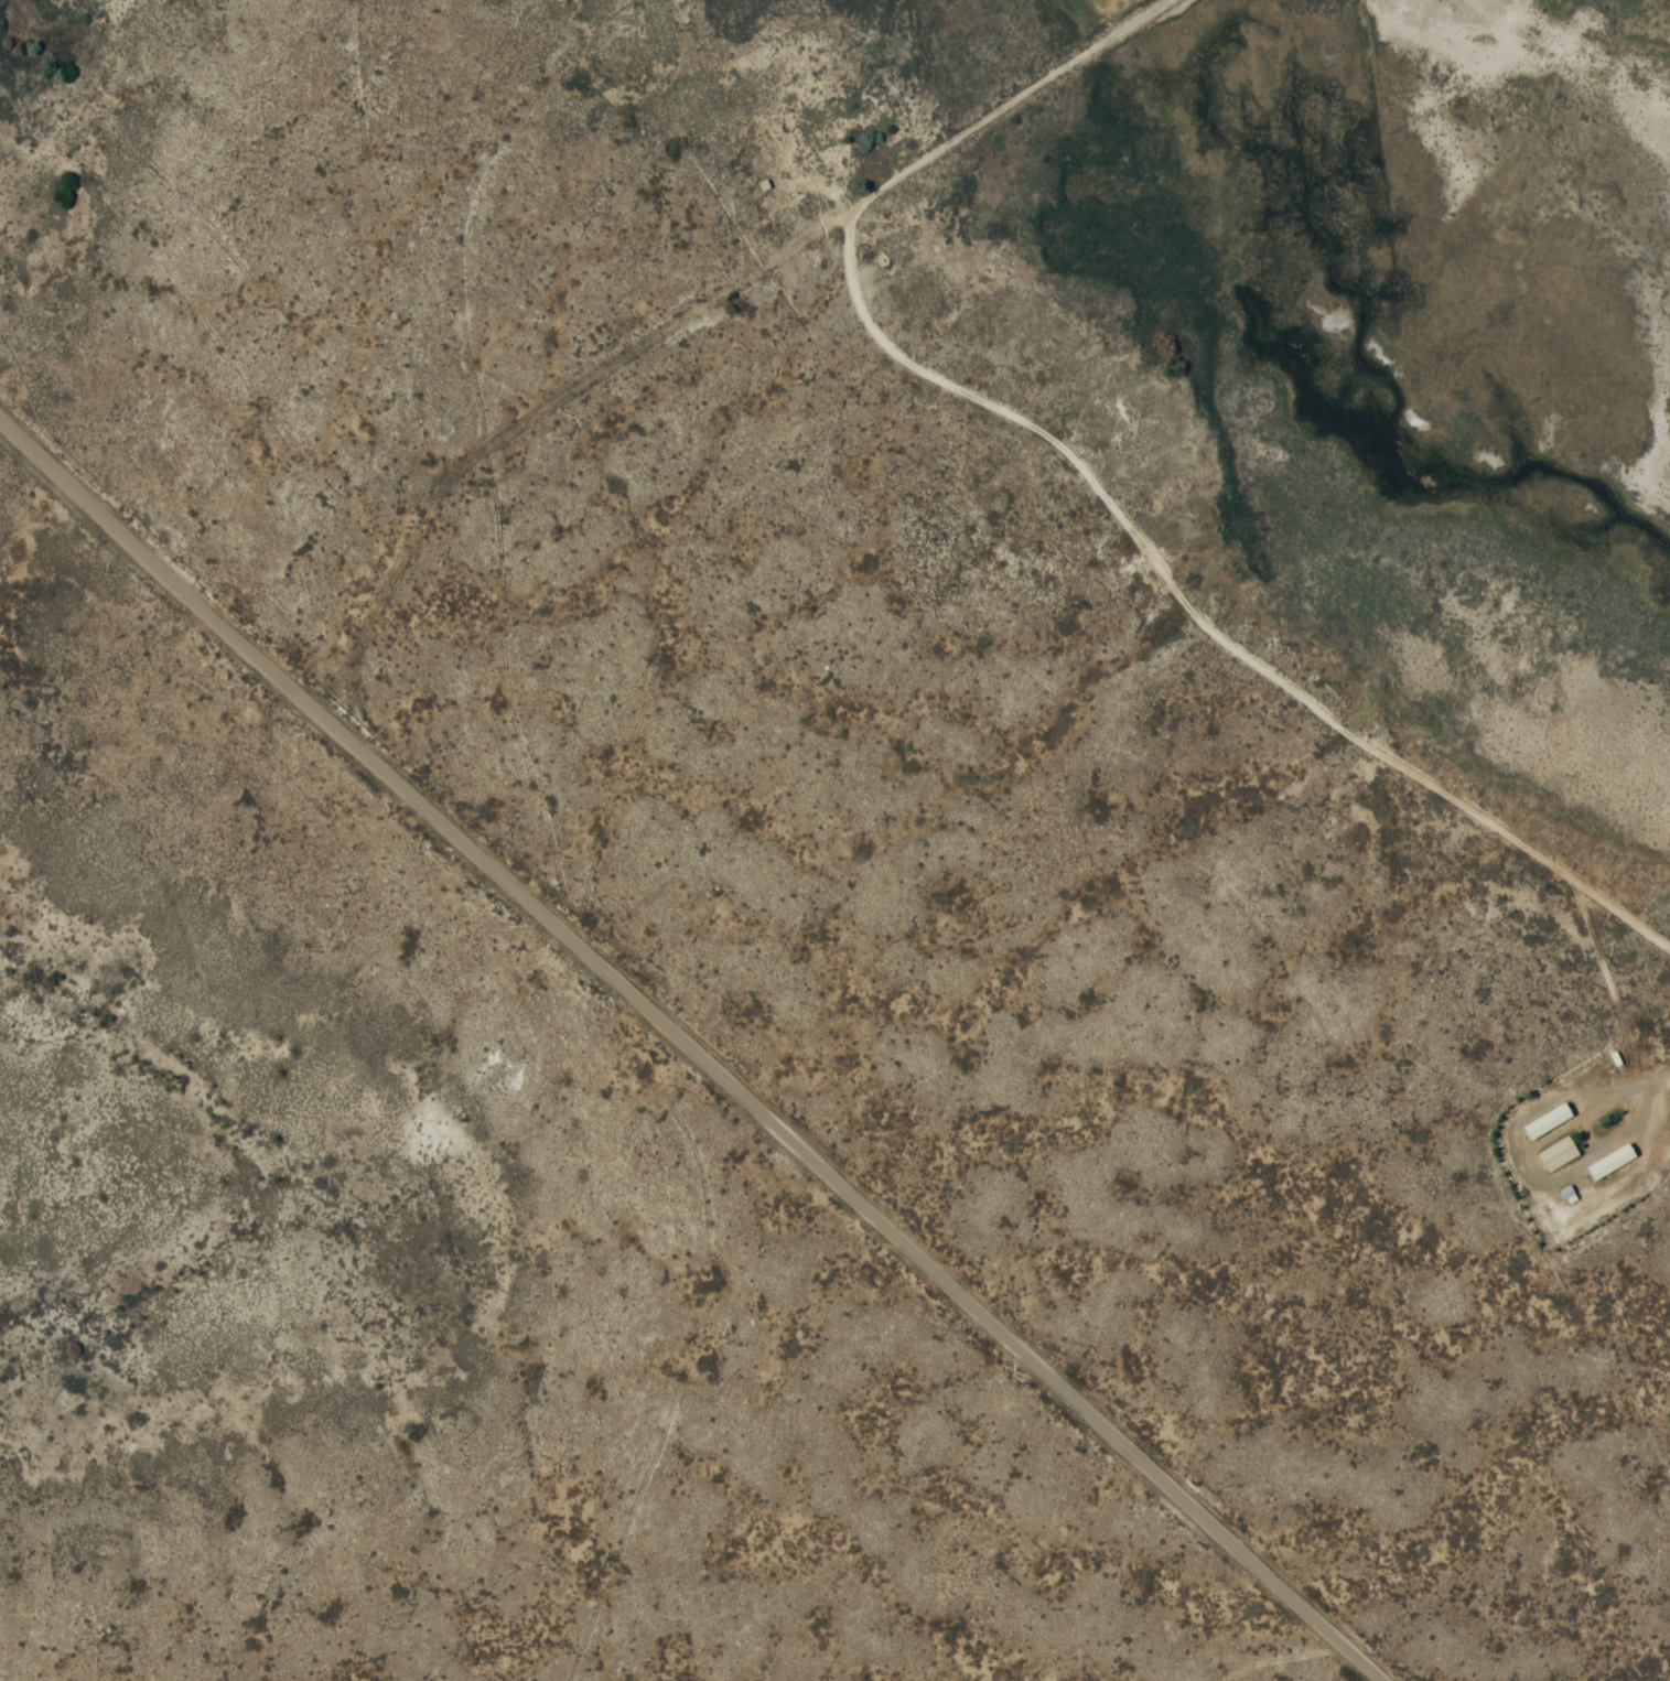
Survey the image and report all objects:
road: (666, 468)
road: (1278, 595)
road: (988, 929)
road: (697, 1043)
road: (1651, 1078)
building: (1556, 1152)

